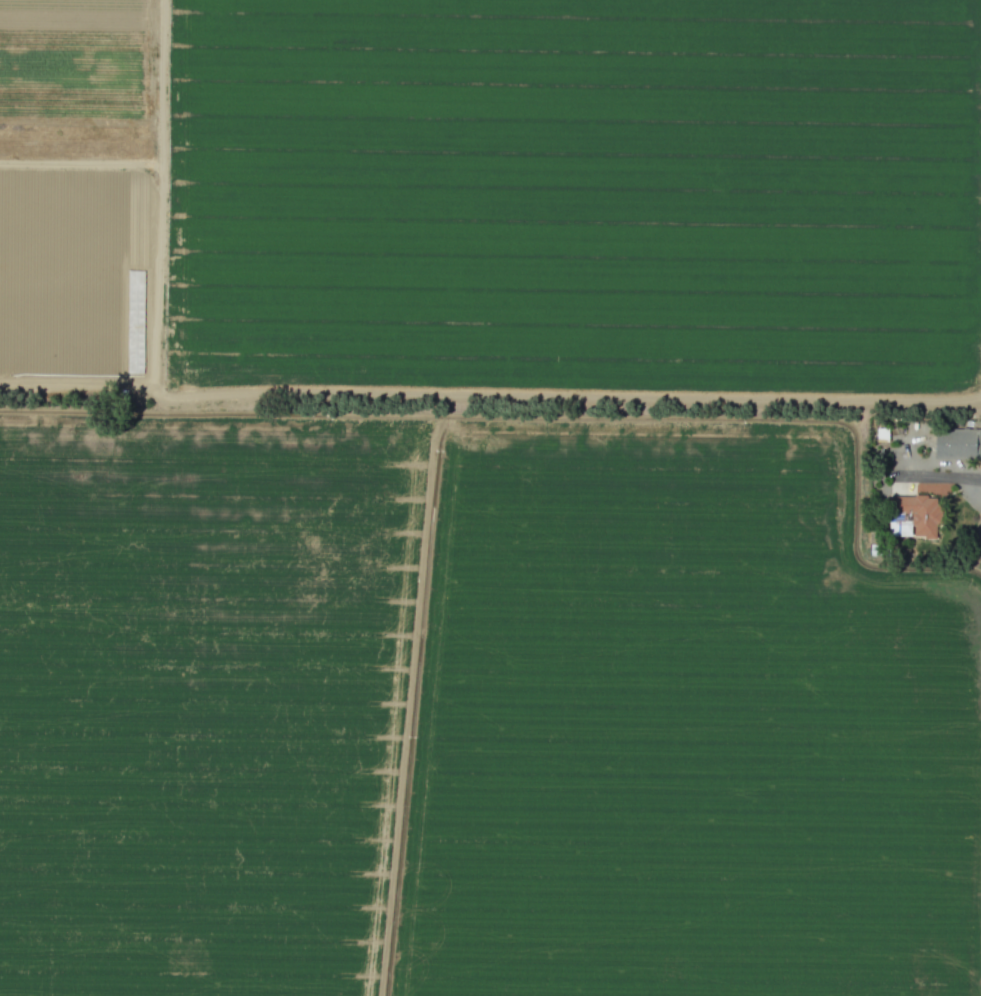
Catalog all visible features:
building: (881, 434)
building: (957, 443)
road: (938, 477)
building: (912, 516)

